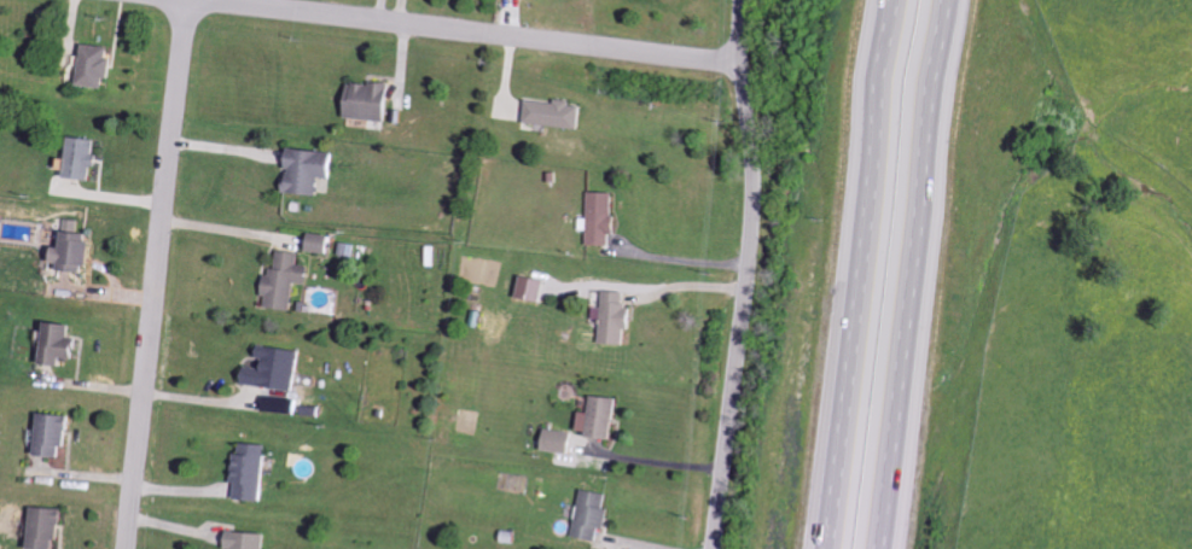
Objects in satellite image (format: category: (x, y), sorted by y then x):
road: (473, 30)
building: (100, 66)
building: (373, 101)
building: (558, 113)
building: (89, 158)
building: (313, 170)
building: (603, 218)
building: (326, 244)
building: (80, 249)
road: (686, 259)
road: (158, 274)
road: (860, 274)
road: (909, 274)
road: (749, 275)
building: (290, 281)
building: (536, 288)
building: (618, 319)
building: (66, 344)
building: (279, 368)
building: (605, 417)
building: (59, 436)
building: (562, 440)
road: (659, 460)
building: (255, 472)
building: (594, 515)
building: (52, 528)
building: (250, 541)

